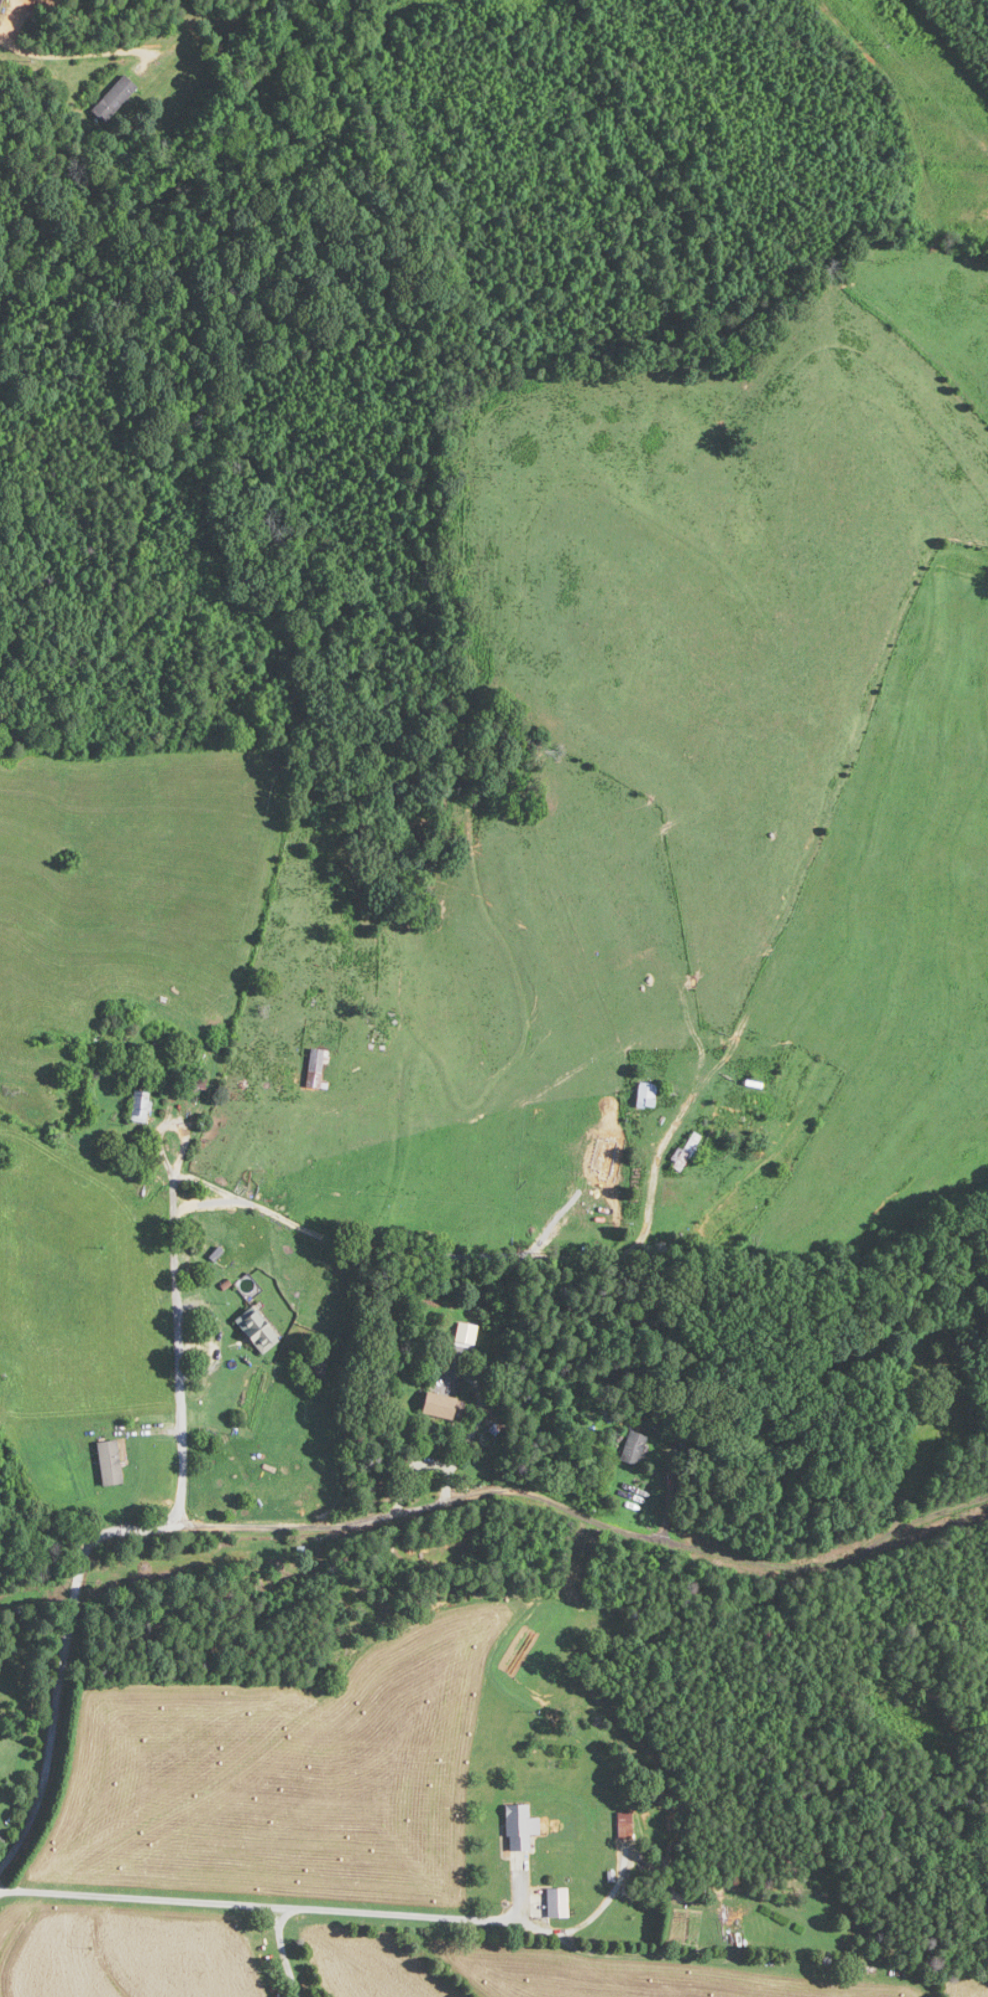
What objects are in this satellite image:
building: (113, 99)
building: (379, 1035)
building: (319, 1068)
building: (273, 1083)
building: (647, 1094)
building: (140, 1105)
building: (262, 1152)
road: (177, 1291)
building: (258, 1330)
park: (921, 1381)
building: (439, 1405)
building: (633, 1448)
building: (109, 1462)
road: (379, 1516)
building: (625, 1824)
building: (519, 1827)
building: (557, 1901)
road: (284, 1906)
road: (282, 1951)

